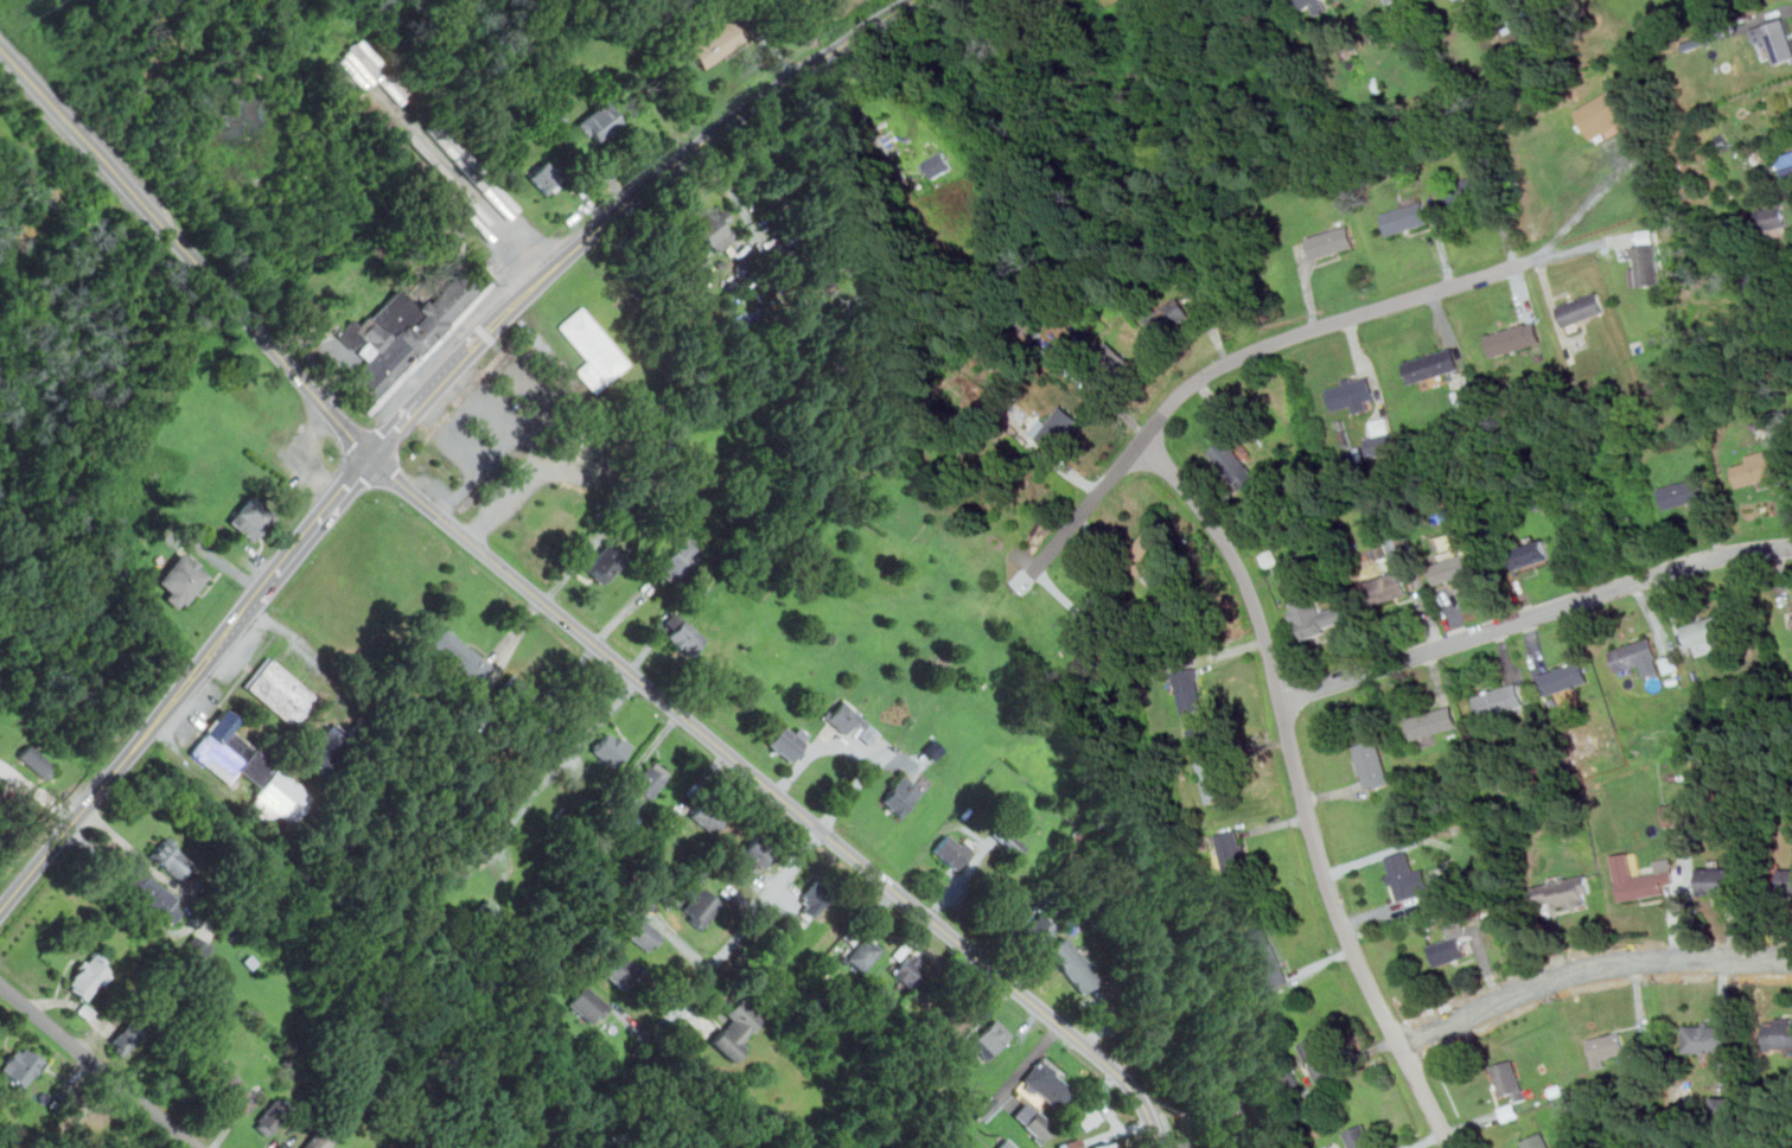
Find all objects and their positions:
road: (714, 2)
building: (1395, 2)
building: (1314, 5)
road: (765, 38)
building: (1779, 39)
building: (714, 43)
building: (356, 64)
building: (1611, 111)
building: (599, 122)
road: (684, 157)
building: (939, 164)
building: (1786, 164)
building: (547, 178)
road: (734, 194)
road: (1791, 194)
building: (1477, 196)
building: (1773, 216)
building: (1408, 218)
building: (716, 229)
road: (512, 232)
building: (1333, 241)
road: (1551, 247)
road: (1539, 256)
building: (1648, 264)
building: (1583, 310)
building: (1172, 315)
building: (403, 332)
building: (1518, 339)
road: (432, 342)
road: (1242, 356)
building: (1433, 365)
building: (1110, 368)
road: (524, 381)
building: (1352, 393)
road: (422, 400)
road: (461, 413)
road: (496, 417)
building: (1059, 428)
building: (1382, 438)
road: (470, 457)
traffic signals: (372, 458)
building: (1236, 463)
building: (1758, 466)
road: (523, 480)
building: (1685, 491)
building: (251, 517)
road: (296, 548)
building: (1455, 548)
building: (1148, 551)
building: (1399, 551)
building: (1532, 554)
building: (1270, 557)
building: (680, 561)
building: (606, 562)
building: (1461, 566)
building: (181, 579)
building: (1391, 587)
building: (1101, 607)
road: (1535, 614)
building: (1319, 616)
road: (563, 617)
building: (1707, 633)
building: (685, 637)
building: (459, 655)
building: (1643, 657)
building: (1565, 677)
building: (281, 691)
building: (516, 691)
building: (1191, 693)
building: (1501, 700)
building: (1434, 721)
building: (852, 722)
building: (1201, 731)
building: (790, 742)
road: (820, 747)
building: (611, 750)
building: (327, 751)
building: (37, 761)
building: (1372, 764)
road: (555, 768)
building: (251, 771)
road: (110, 776)
building: (1213, 779)
building: (651, 780)
road: (856, 786)
road: (1302, 790)
building: (903, 796)
building: (710, 812)
building: (1675, 814)
building: (1007, 840)
building: (951, 848)
building: (758, 850)
building: (1233, 852)
building: (171, 862)
building: (455, 869)
building: (1404, 874)
building: (1643, 876)
building: (1786, 880)
building: (1723, 881)
building: (153, 892)
building: (1567, 892)
building: (814, 898)
building: (701, 906)
building: (490, 916)
road: (192, 926)
building: (1037, 930)
building: (640, 932)
road: (732, 943)
building: (1453, 945)
building: (196, 948)
building: (863, 954)
building: (1267, 957)
building: (1073, 965)
building: (619, 969)
road: (1588, 969)
building: (911, 970)
building: (89, 977)
building: (588, 1004)
building: (1162, 1016)
building: (958, 1019)
building: (736, 1028)
building: (1779, 1035)
building: (990, 1039)
building: (121, 1040)
building: (1708, 1040)
building: (1608, 1047)
building: (1320, 1058)
building: (21, 1065)
road: (98, 1065)
building: (1509, 1080)
building: (1048, 1083)
building: (235, 1096)
building: (1220, 1099)
building: (1727, 1105)
building: (986, 1106)
building: (272, 1116)
building: (1088, 1116)
building: (1033, 1121)
building: (1360, 1137)
building: (318, 1140)
building: (1537, 1142)
building: (1003, 1143)
building: (1072, 1143)
building: (1107, 1144)
building: (1690, 1146)

